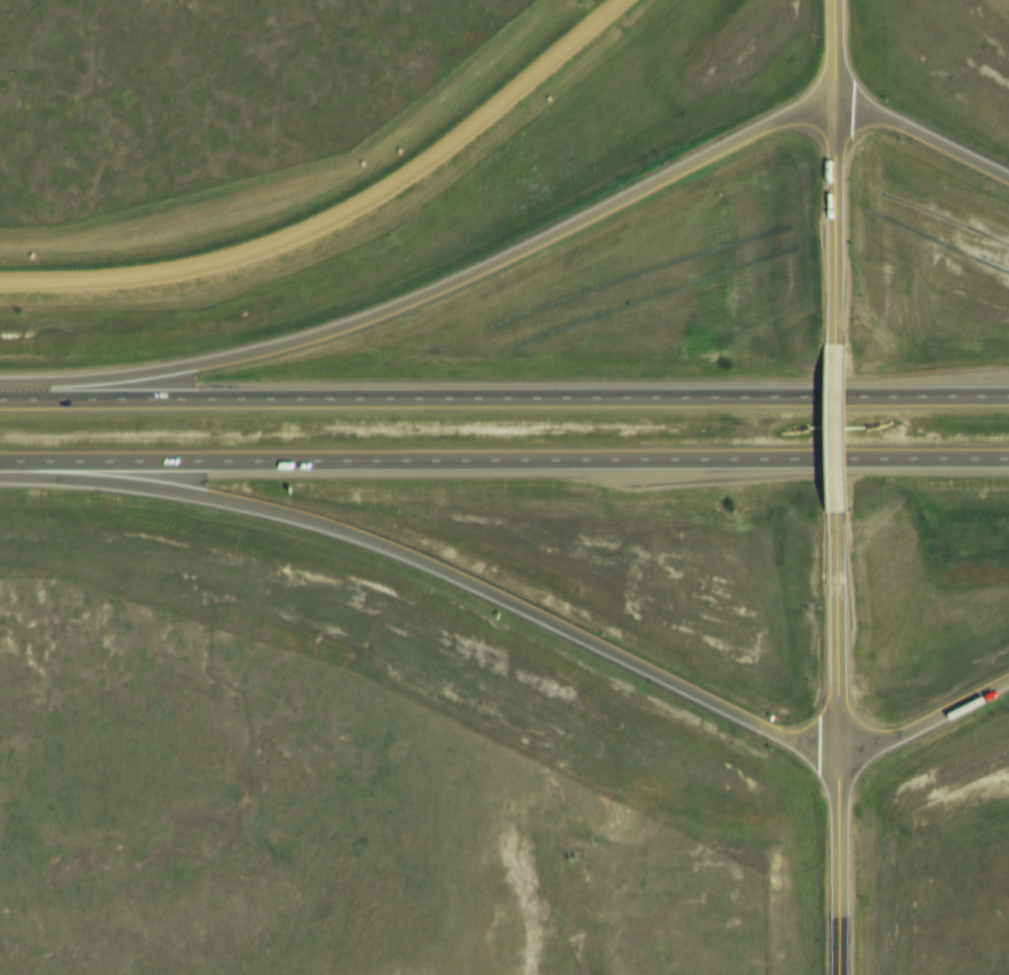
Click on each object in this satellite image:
road: (832, 56)
road: (343, 215)
road: (835, 234)
road: (518, 259)
road: (504, 398)
road: (839, 438)
road: (504, 462)
road: (520, 616)
road: (836, 747)

